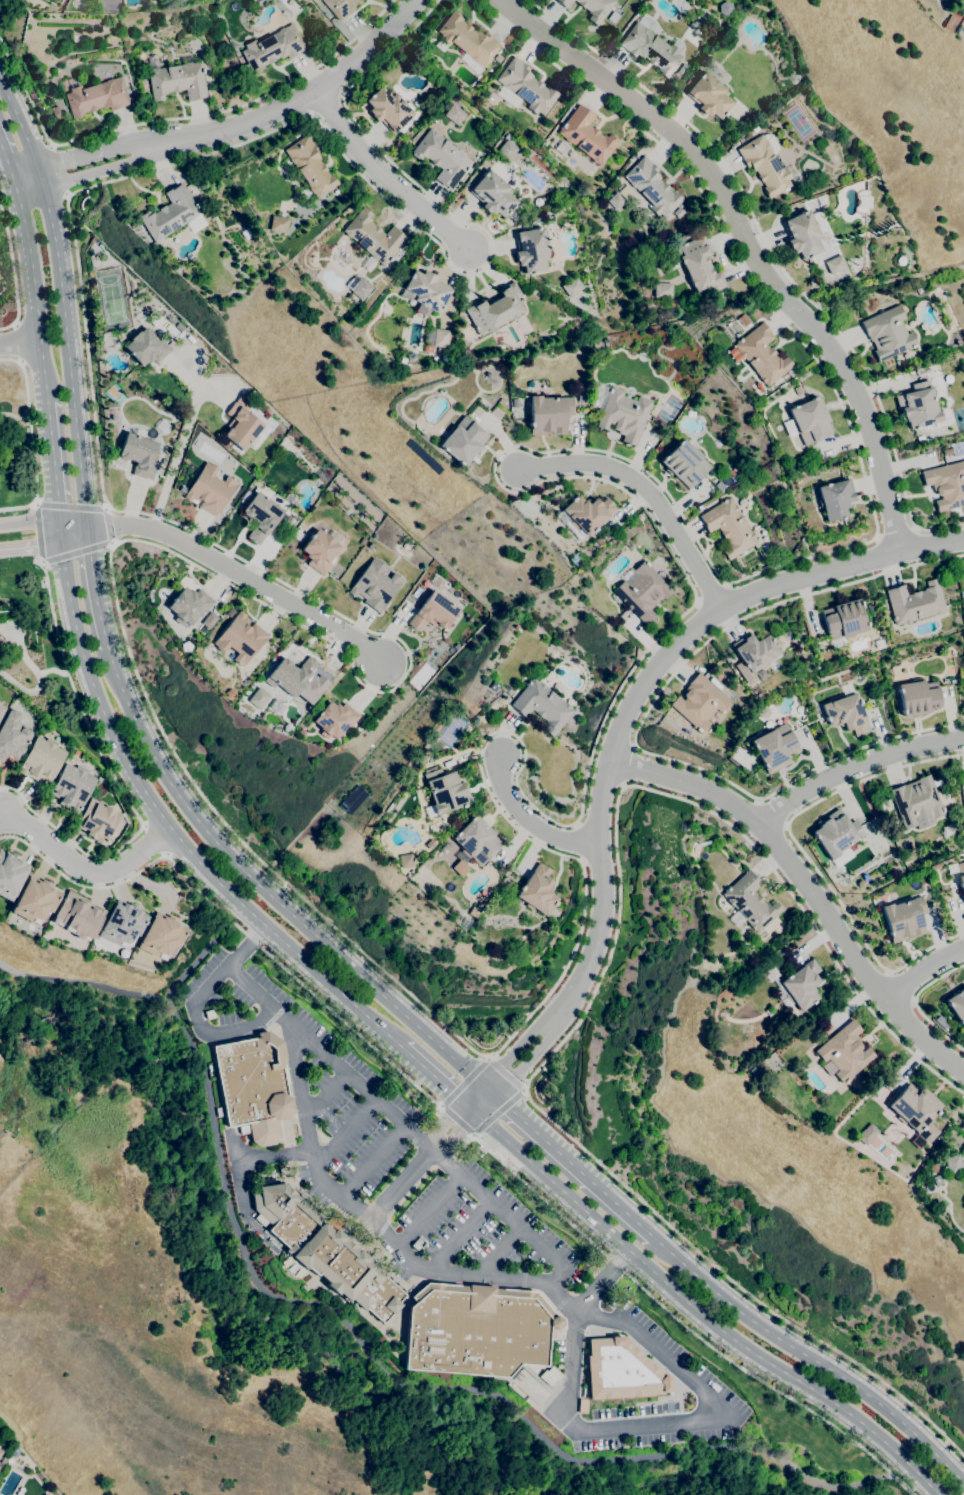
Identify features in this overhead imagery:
building: (564, 3)
building: (339, 7)
building: (596, 8)
building: (725, 8)
building: (613, 17)
building: (466, 42)
building: (271, 48)
building: (650, 49)
building: (497, 58)
building: (682, 69)
building: (178, 81)
building: (526, 86)
building: (444, 96)
building: (708, 96)
building: (96, 97)
building: (388, 109)
building: (55, 113)
building: (454, 114)
road: (181, 117)
road: (249, 122)
road: (22, 130)
building: (586, 136)
building: (771, 142)
building: (561, 147)
building: (506, 150)
building: (441, 158)
road: (7, 165)
building: (310, 165)
building: (764, 166)
road: (58, 170)
building: (795, 177)
road: (398, 179)
road: (29, 182)
building: (651, 187)
building: (336, 192)
building: (493, 194)
building: (538, 201)
building: (169, 213)
building: (678, 213)
building: (341, 223)
building: (278, 224)
building: (805, 232)
building: (374, 237)
road: (744, 243)
building: (531, 250)
road: (774, 257)
building: (670, 263)
building: (835, 264)
building: (698, 265)
road: (13, 274)
building: (571, 286)
building: (358, 287)
building: (426, 290)
building: (661, 290)
road: (35, 294)
building: (718, 296)
building: (861, 297)
building: (160, 310)
building: (495, 310)
building: (743, 319)
building: (887, 333)
building: (440, 338)
road: (20, 340)
building: (146, 347)
road: (66, 353)
building: (761, 354)
building: (444, 358)
building: (948, 378)
road: (197, 382)
building: (798, 390)
building: (502, 402)
building: (918, 406)
building: (549, 414)
building: (624, 415)
road: (23, 416)
building: (809, 420)
building: (241, 425)
road: (31, 439)
building: (920, 439)
building: (462, 440)
building: (227, 444)
building: (232, 451)
building: (948, 451)
building: (139, 454)
road: (174, 457)
building: (684, 463)
road: (53, 468)
building: (249, 476)
building: (727, 483)
building: (946, 485)
building: (210, 489)
road: (646, 491)
building: (291, 499)
building: (835, 499)
road: (35, 503)
road: (70, 506)
road: (105, 508)
building: (587, 513)
building: (260, 516)
road: (31, 521)
road: (109, 526)
building: (728, 527)
road: (895, 531)
road: (73, 532)
road: (38, 533)
building: (599, 540)
building: (362, 541)
road: (111, 543)
building: (370, 545)
road: (31, 546)
building: (319, 551)
road: (76, 552)
road: (41, 562)
road: (239, 575)
building: (375, 585)
road: (93, 589)
building: (643, 592)
building: (914, 602)
building: (188, 605)
building: (433, 612)
building: (843, 619)
building: (209, 620)
building: (240, 638)
road: (711, 638)
road: (23, 647)
building: (755, 652)
building: (290, 675)
building: (717, 675)
road: (44, 684)
building: (493, 686)
building: (917, 697)
building: (258, 698)
building: (698, 702)
building: (542, 705)
building: (1, 710)
building: (845, 714)
building: (818, 715)
building: (334, 719)
building: (12, 736)
road: (617, 736)
building: (774, 747)
road: (855, 750)
building: (40, 760)
road: (629, 765)
road: (856, 768)
road: (116, 781)
building: (71, 787)
building: (445, 791)
building: (916, 803)
road: (773, 813)
road: (4, 818)
building: (98, 821)
road: (532, 823)
road: (170, 829)
building: (836, 833)
building: (476, 841)
road: (805, 855)
building: (404, 860)
building: (458, 867)
road: (86, 872)
building: (10, 874)
building: (961, 883)
road: (807, 886)
building: (537, 891)
road: (267, 893)
building: (32, 900)
building: (750, 902)
building: (79, 915)
building: (903, 919)
road: (230, 920)
building: (122, 924)
building: (465, 924)
building: (161, 936)
road: (247, 946)
road: (203, 952)
road: (375, 962)
road: (922, 971)
building: (796, 985)
road: (901, 986)
road: (591, 996)
road: (916, 1003)
building: (957, 1005)
building: (769, 1011)
building: (209, 1014)
road: (203, 1031)
building: (845, 1051)
building: (752, 1071)
road: (507, 1073)
building: (861, 1077)
road: (436, 1078)
road: (466, 1080)
building: (253, 1086)
road: (301, 1086)
road: (327, 1092)
building: (914, 1107)
road: (499, 1111)
road: (457, 1118)
building: (936, 1119)
road: (407, 1126)
road: (346, 1133)
building: (865, 1134)
road: (374, 1161)
road: (421, 1163)
building: (953, 1164)
road: (571, 1165)
road: (236, 1175)
road: (430, 1211)
parking lot: (479, 1228)
road: (460, 1237)
building: (323, 1250)
road: (501, 1251)
road: (603, 1282)
road: (696, 1312)
road: (677, 1317)
building: (476, 1330)
road: (370, 1349)
road: (811, 1358)
building: (620, 1369)
building: (549, 1375)
road: (569, 1379)
road: (540, 1396)
building: (0, 1450)
building: (0, 1452)
building: (46, 1494)

